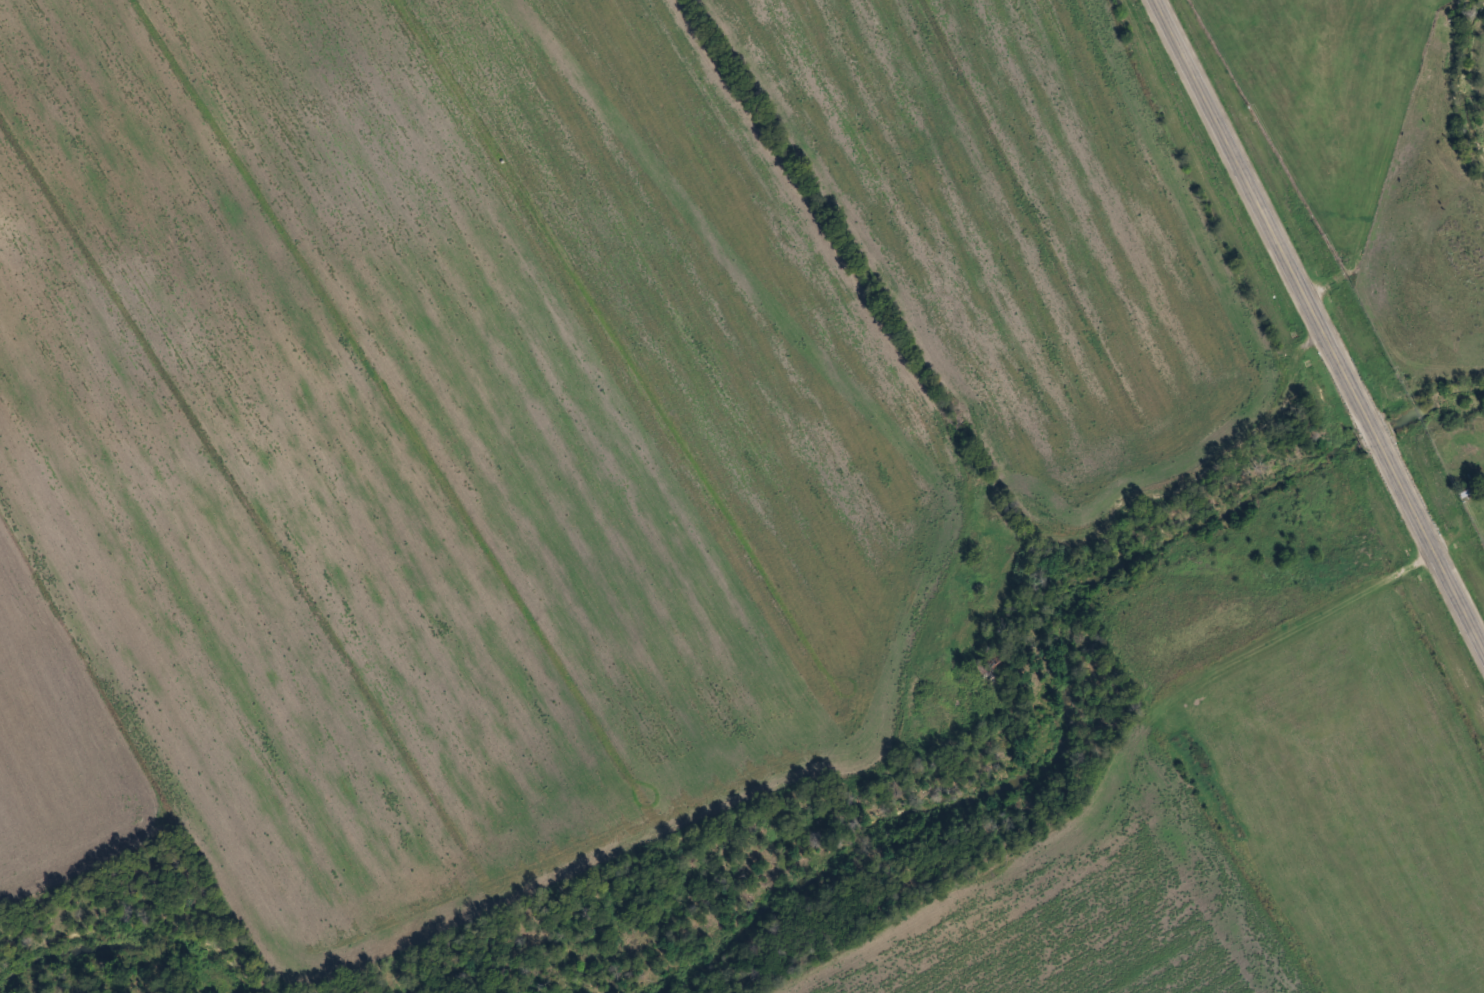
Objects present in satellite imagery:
road: (1319, 325)
building: (1466, 488)

